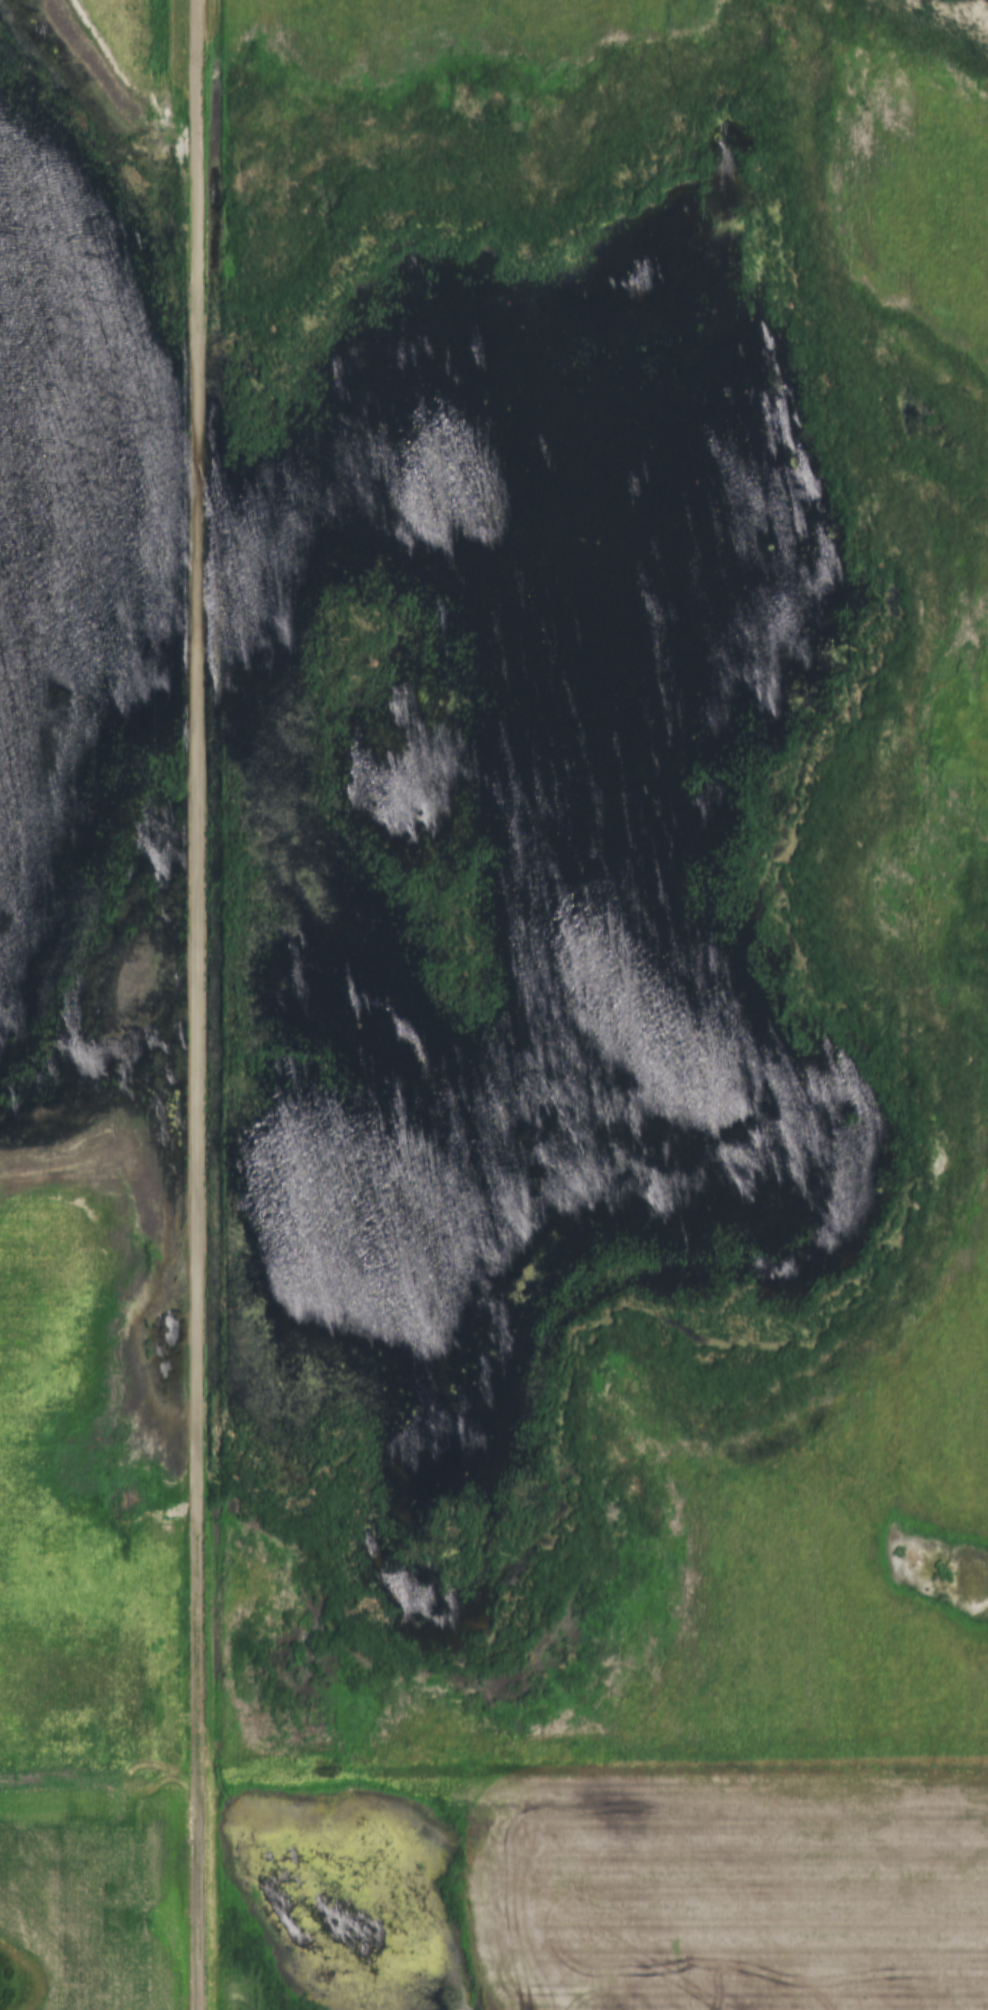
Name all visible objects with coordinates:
road: (195, 1004)

